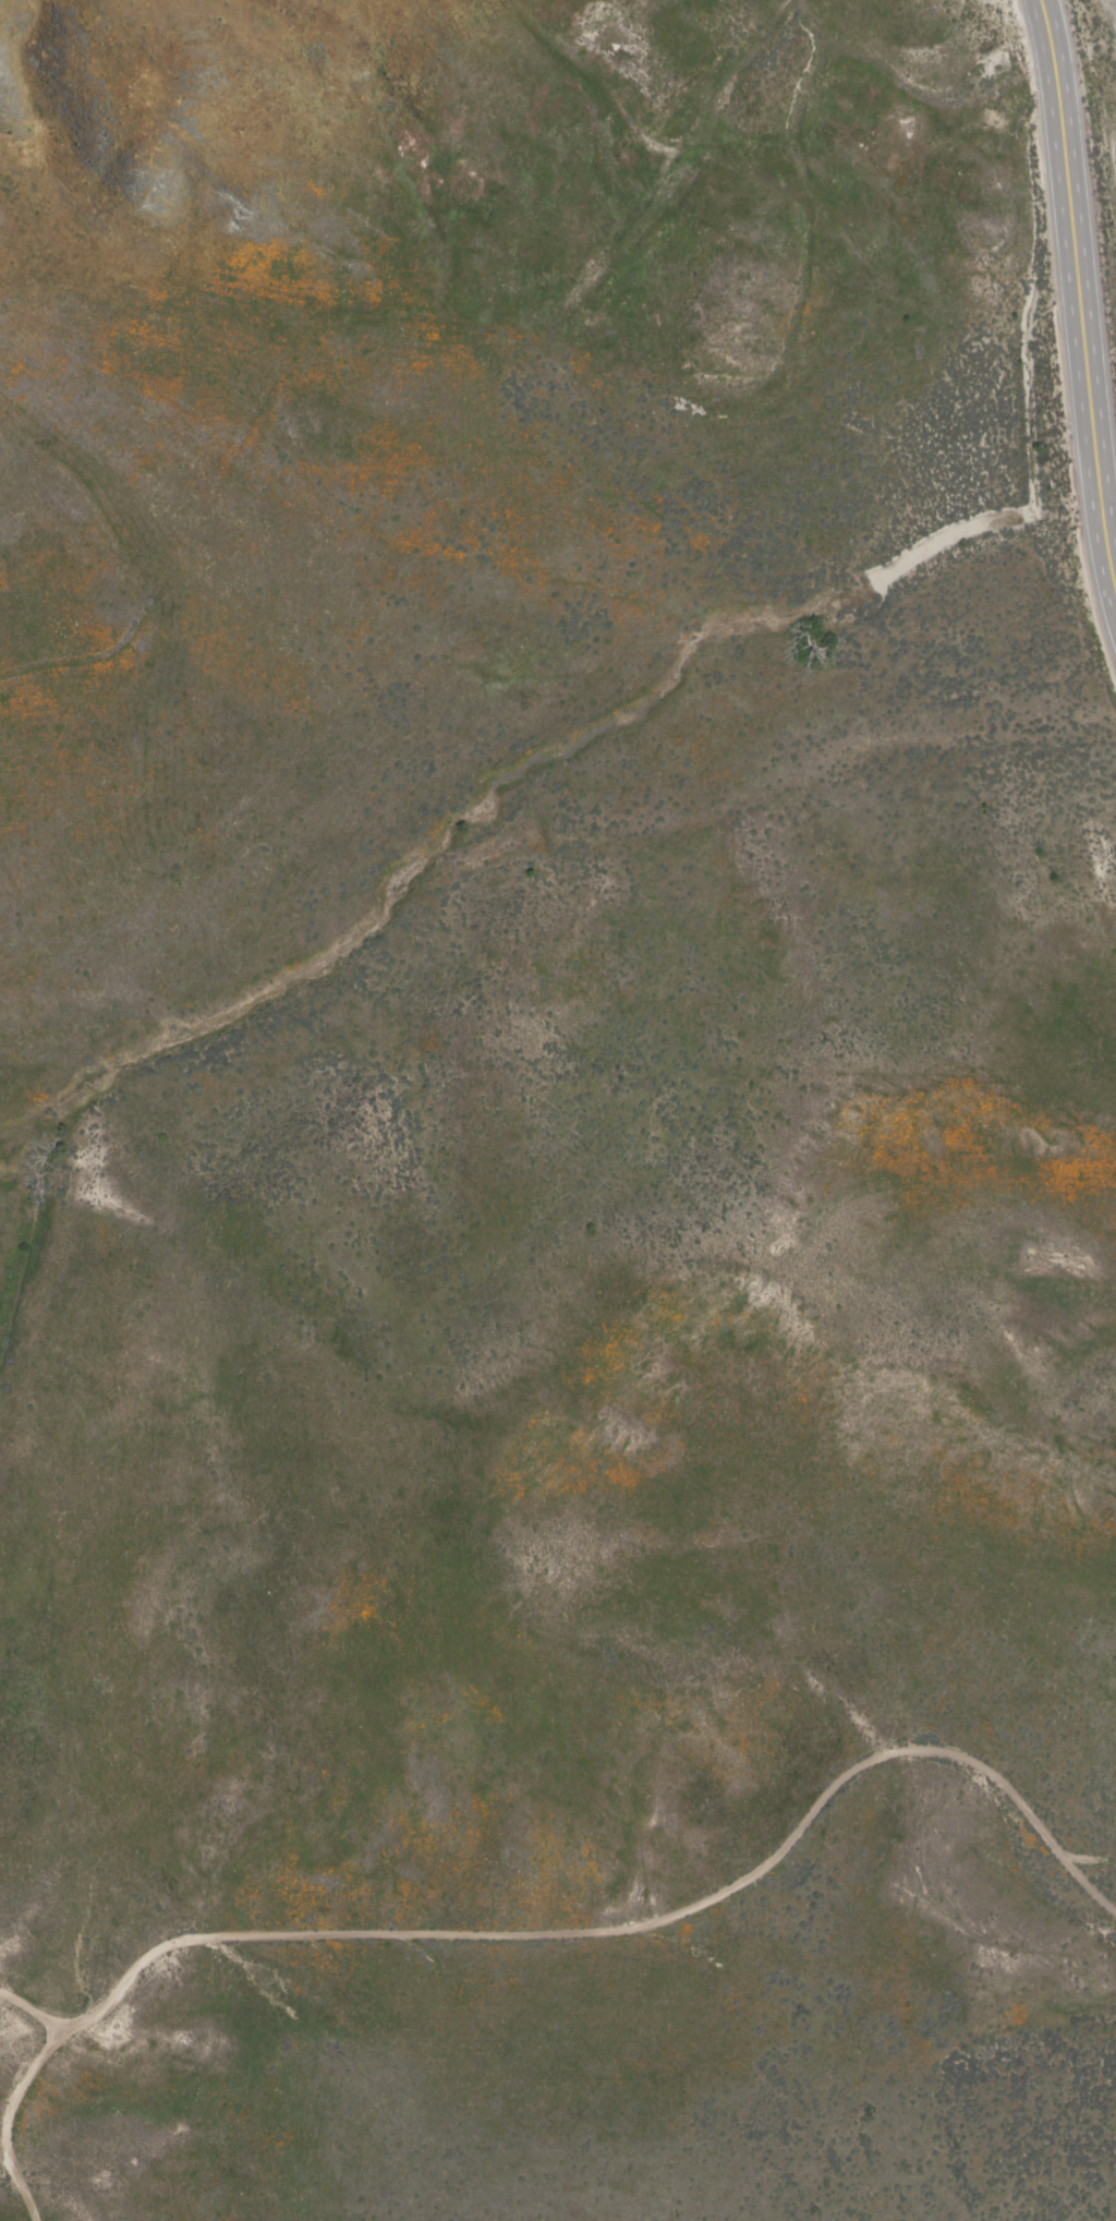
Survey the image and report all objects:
road: (1081, 291)
road: (597, 1936)
road: (22, 2121)

